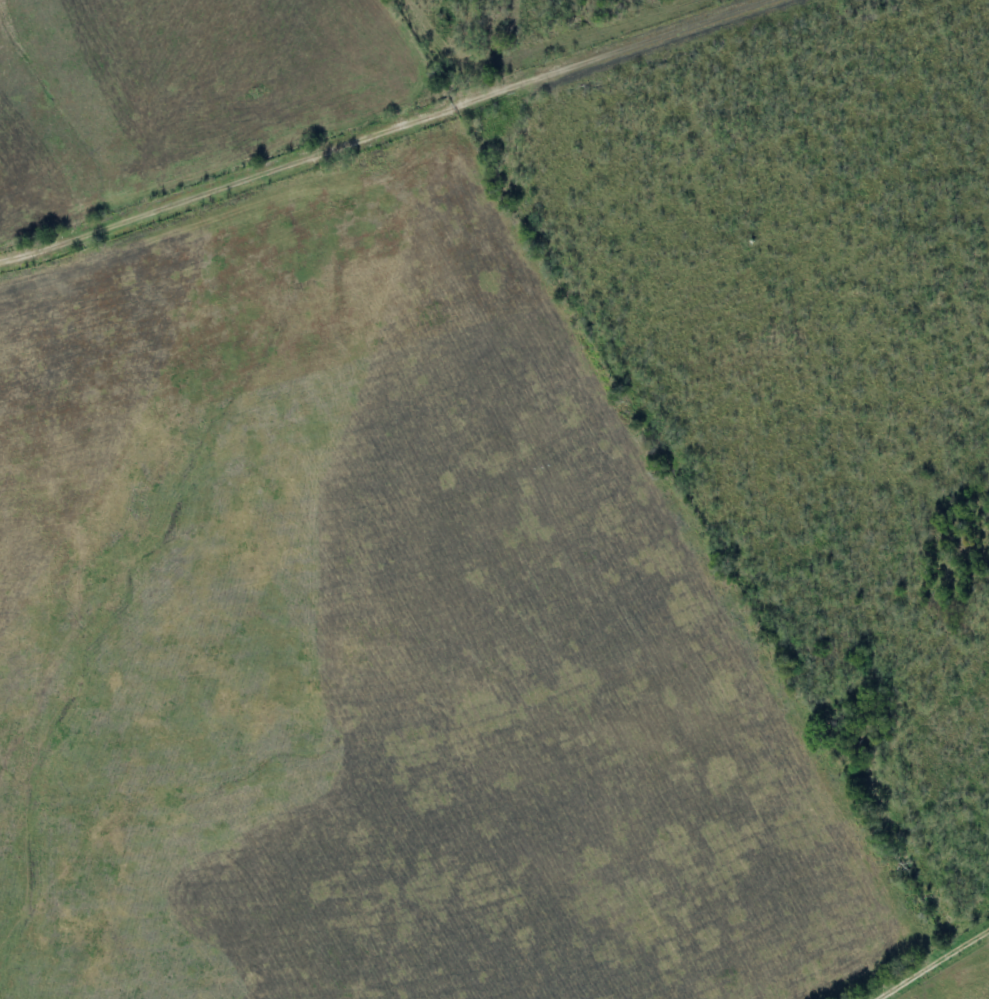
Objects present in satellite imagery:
road: (420, 142)

